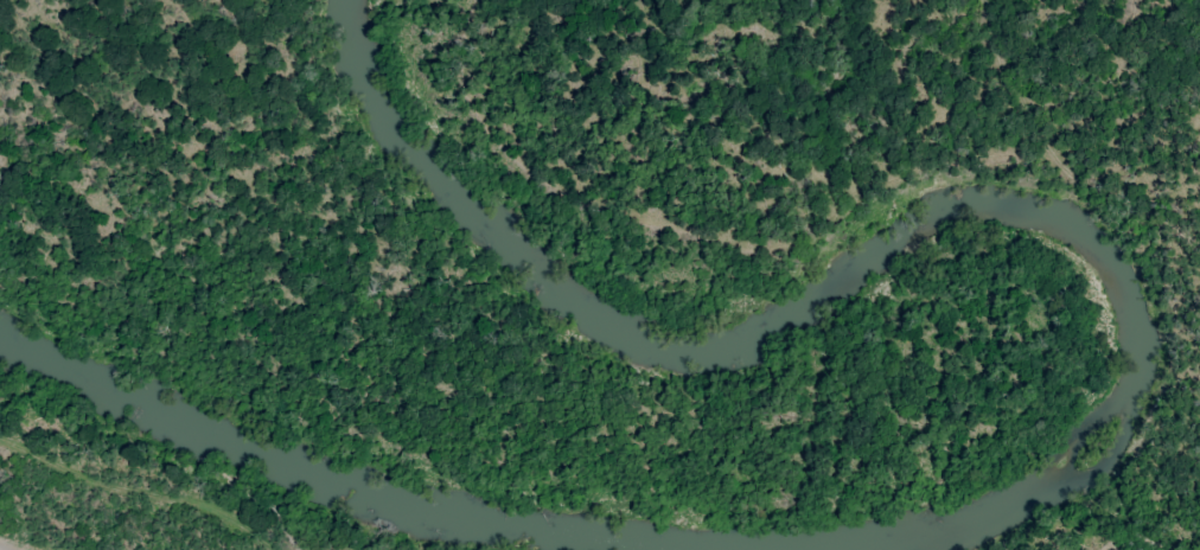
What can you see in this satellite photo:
river: (1118, 439)
road: (138, 509)

